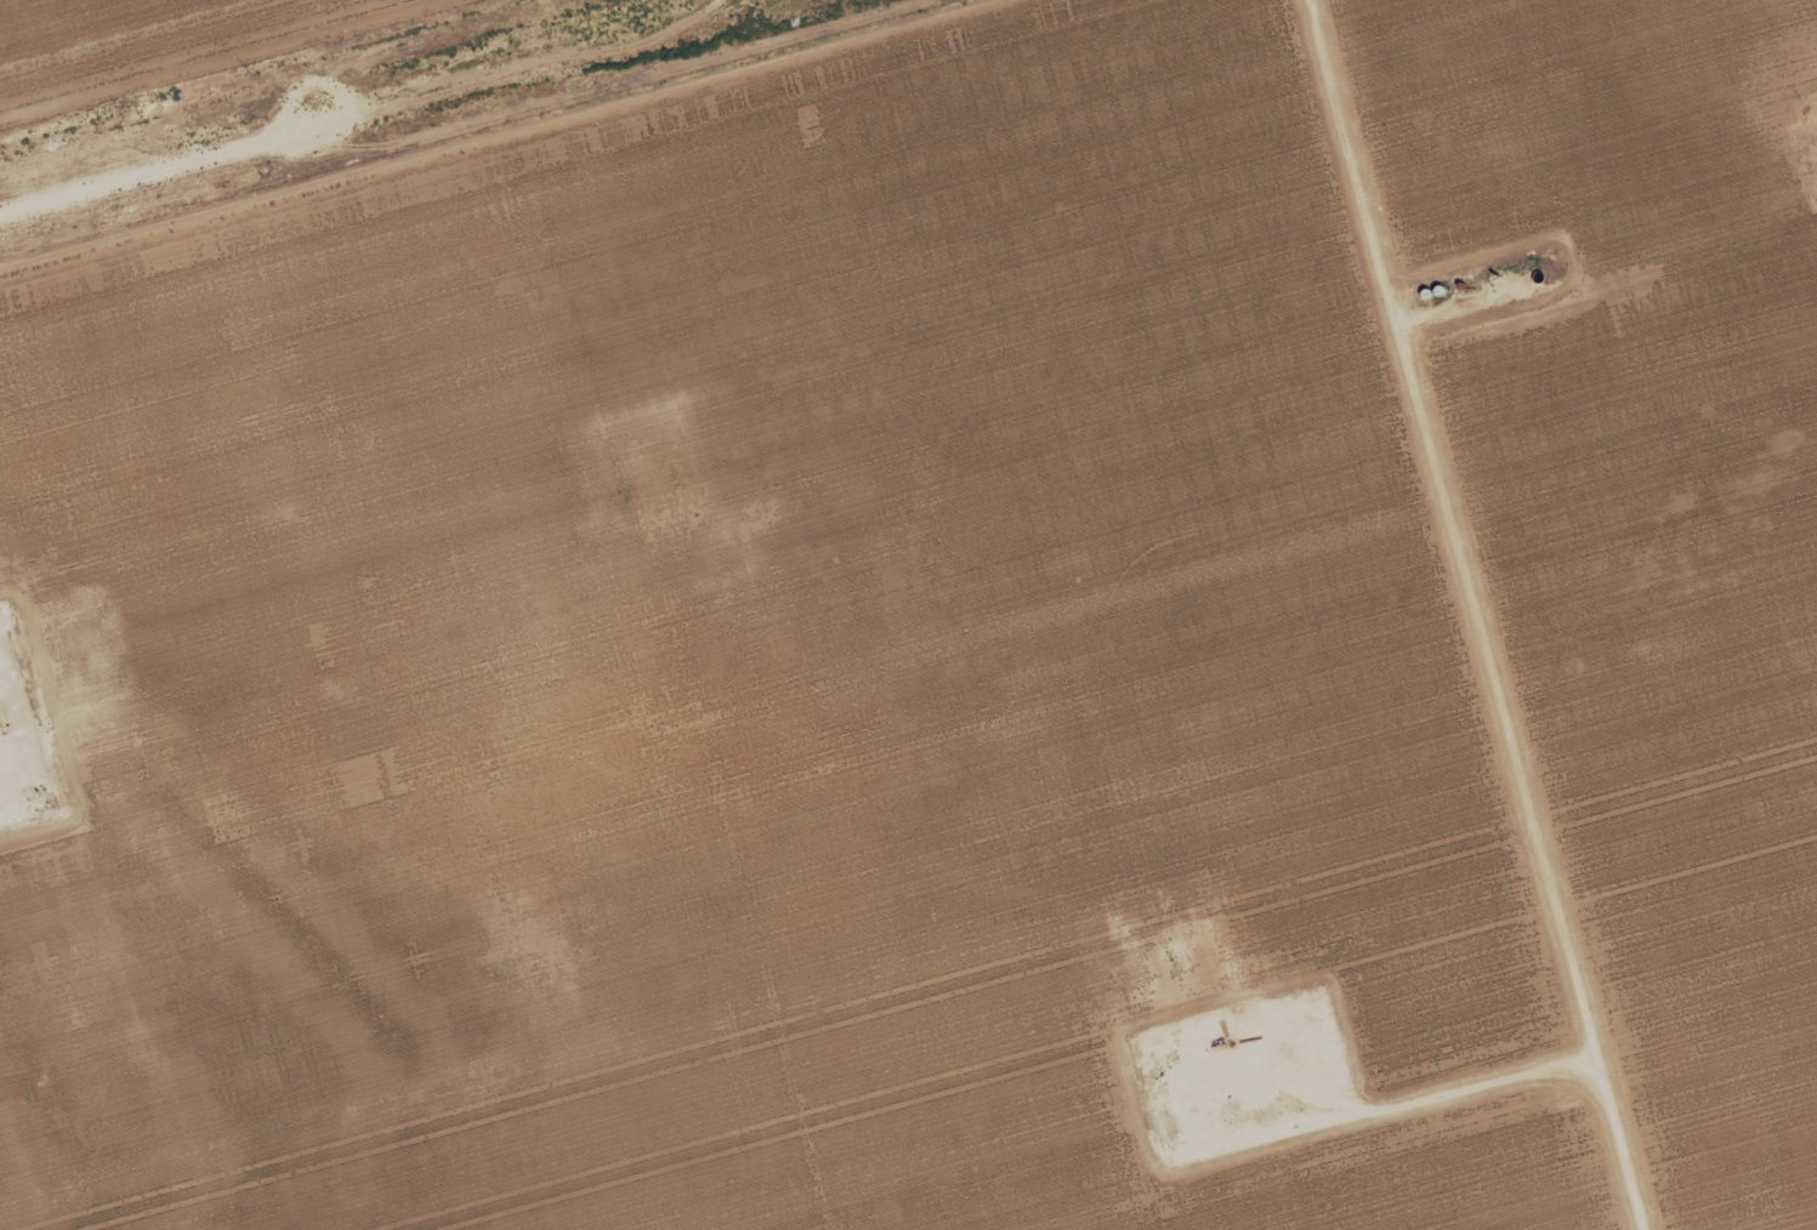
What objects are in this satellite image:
road: (1156, 1050)
road: (1556, 1066)

